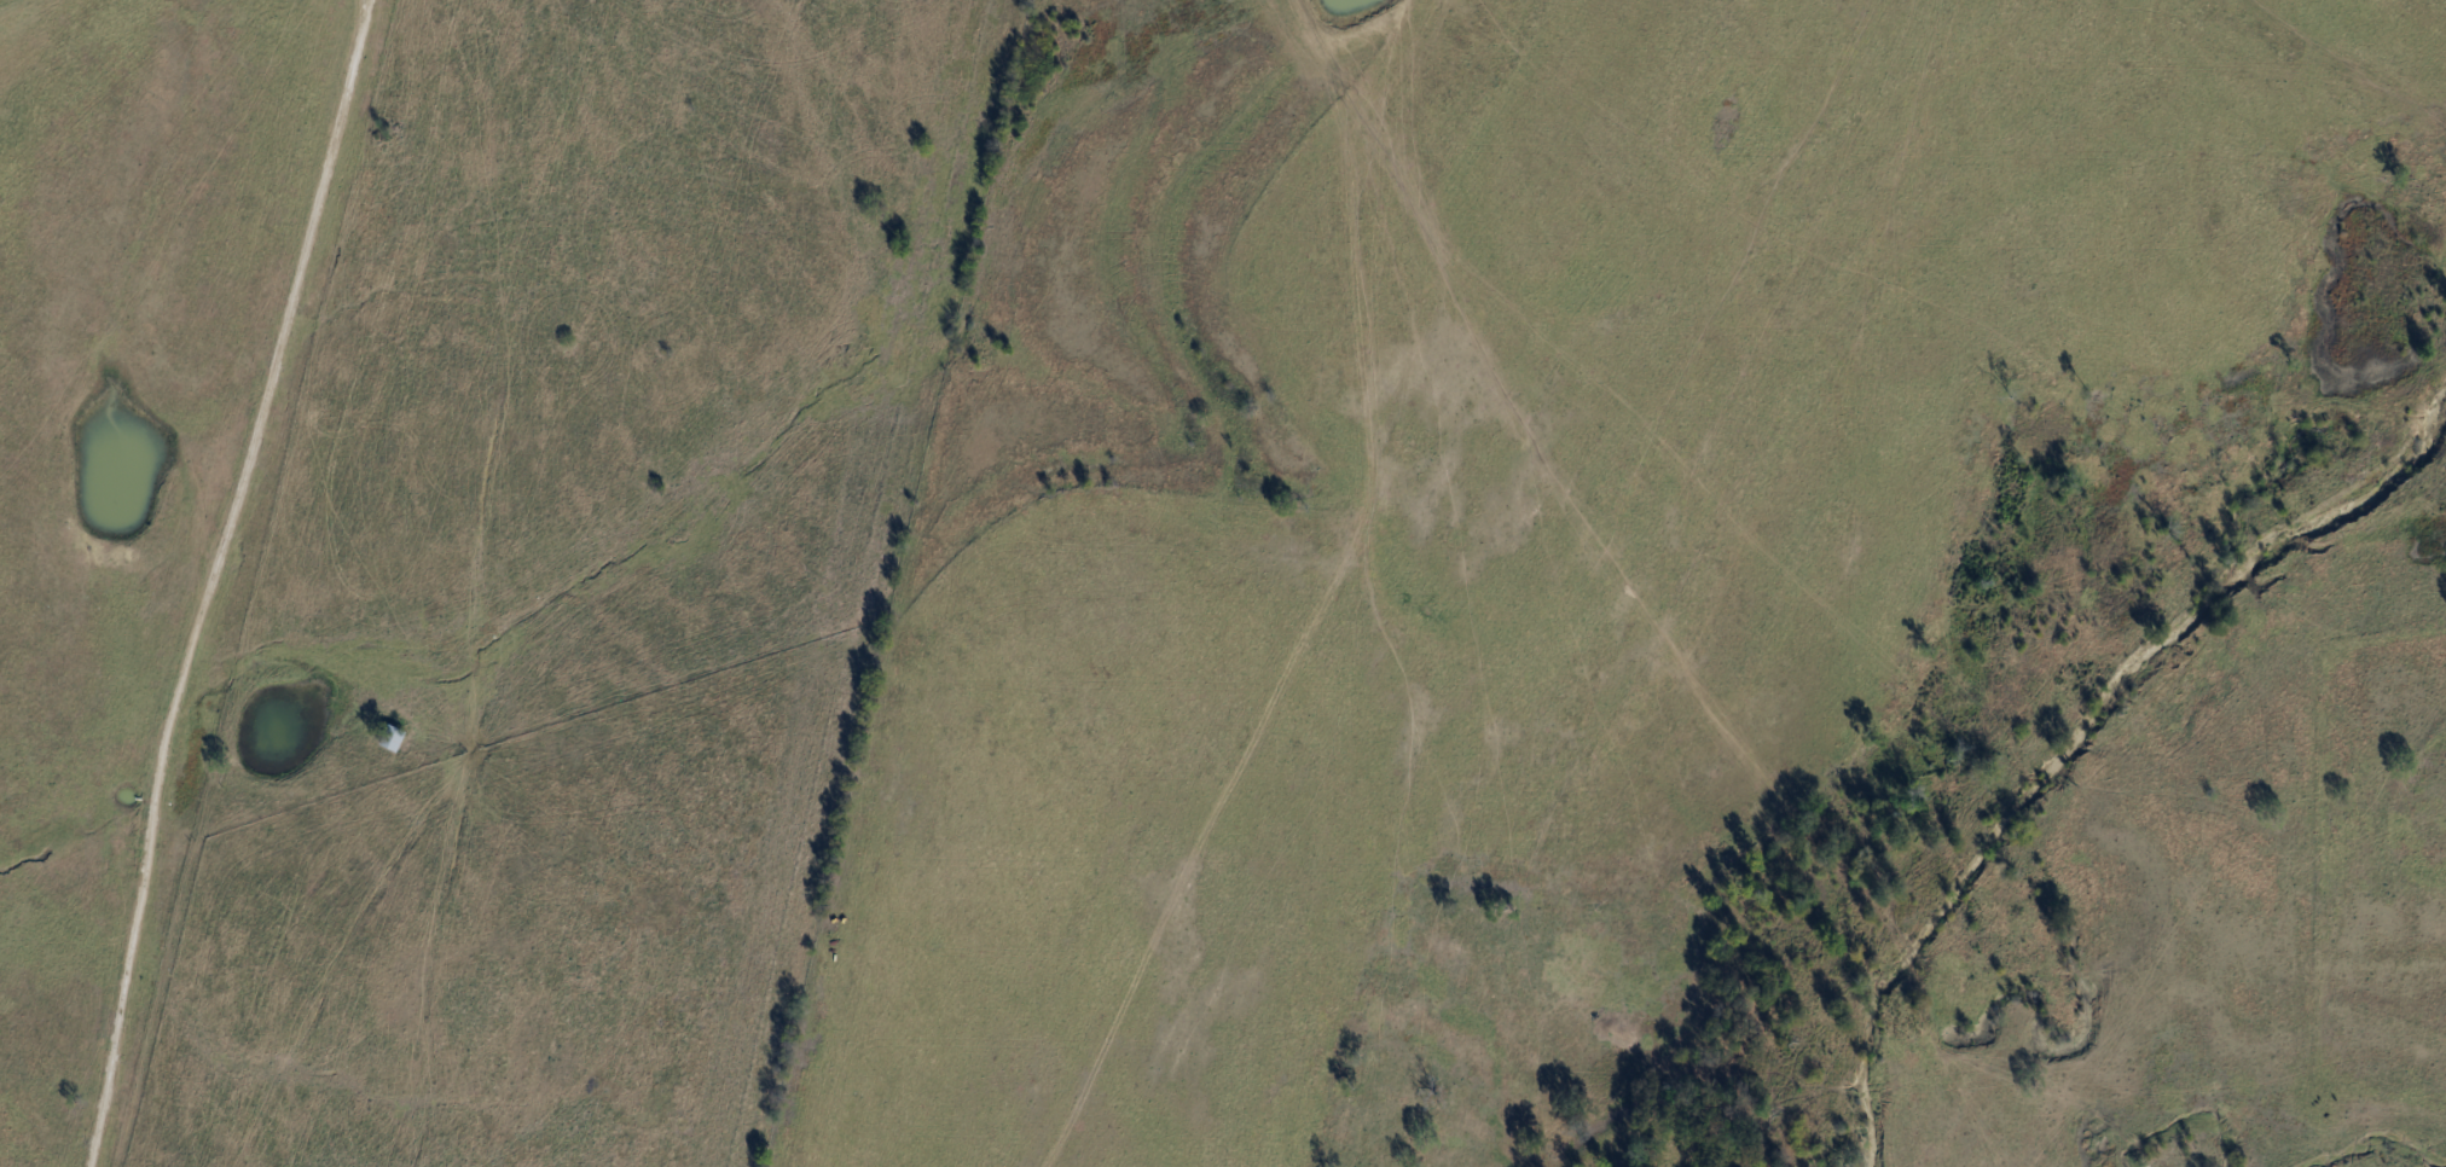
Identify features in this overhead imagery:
building: (393, 737)

